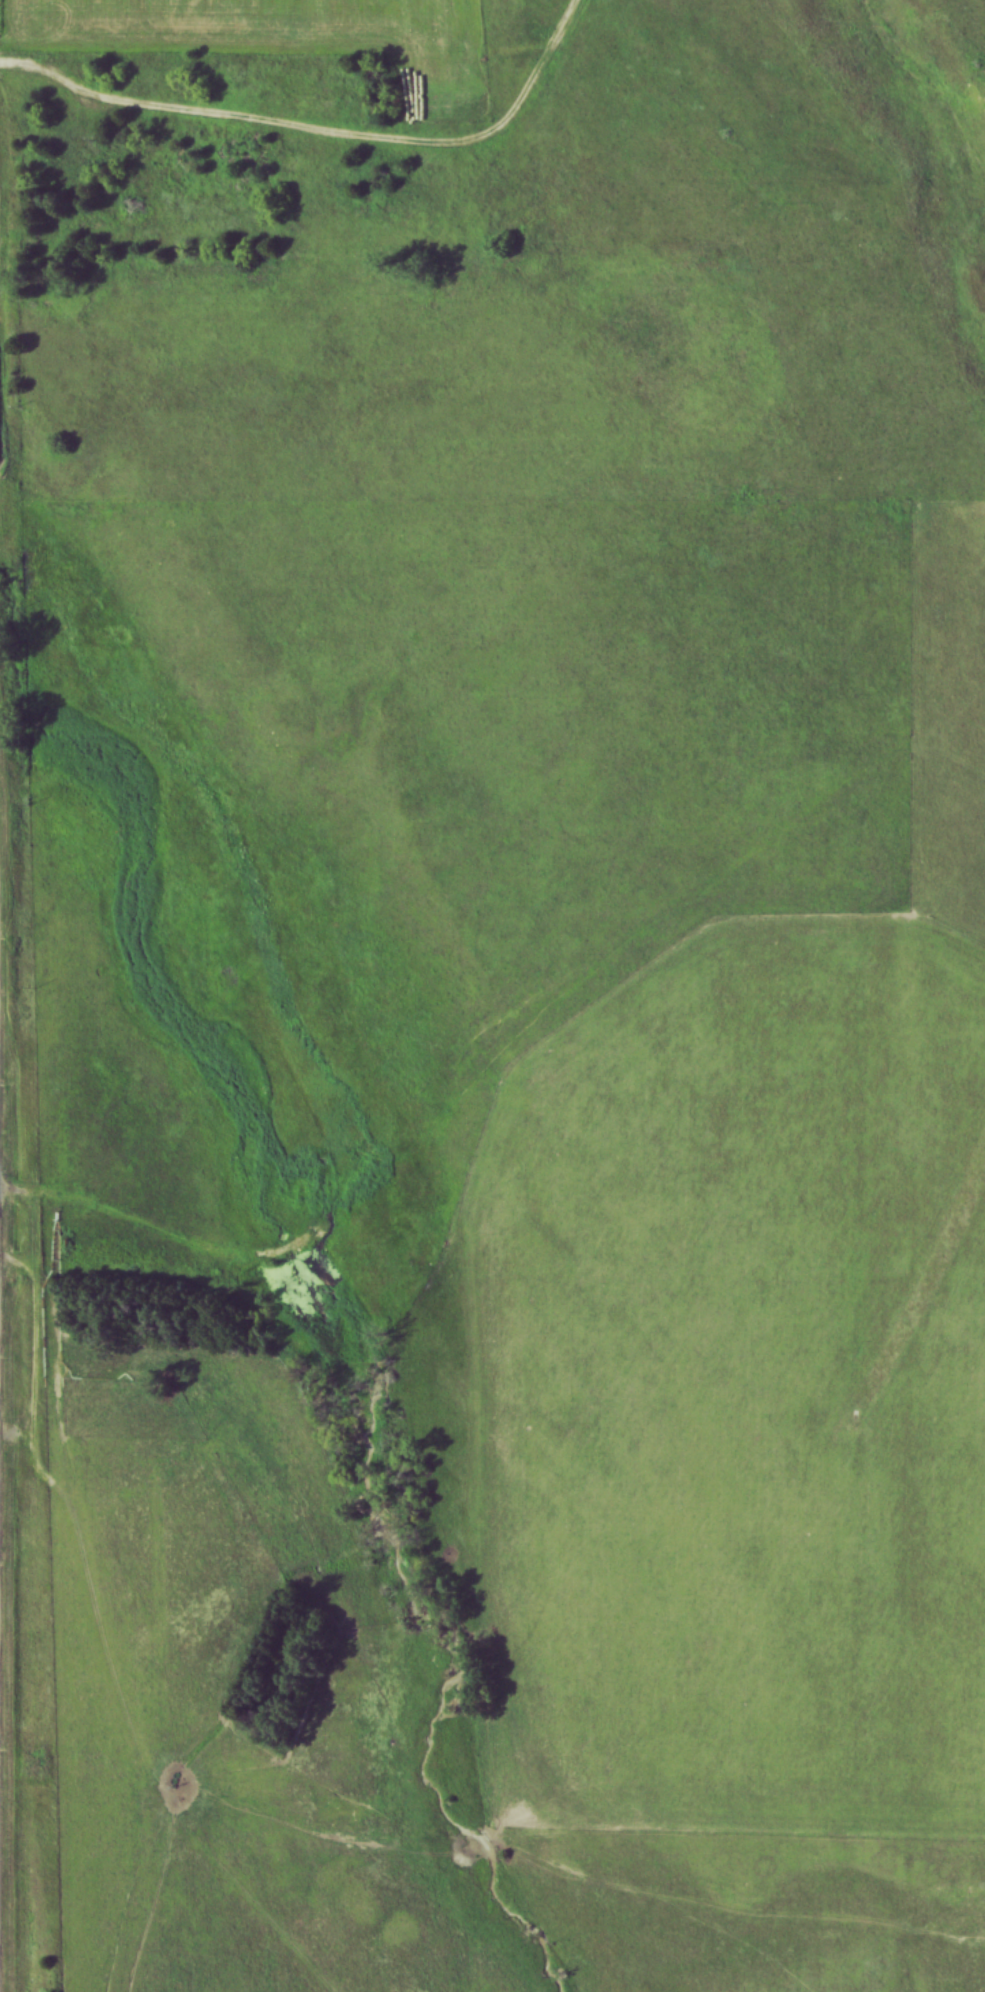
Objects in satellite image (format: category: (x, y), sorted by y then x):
road: (302, 52)

